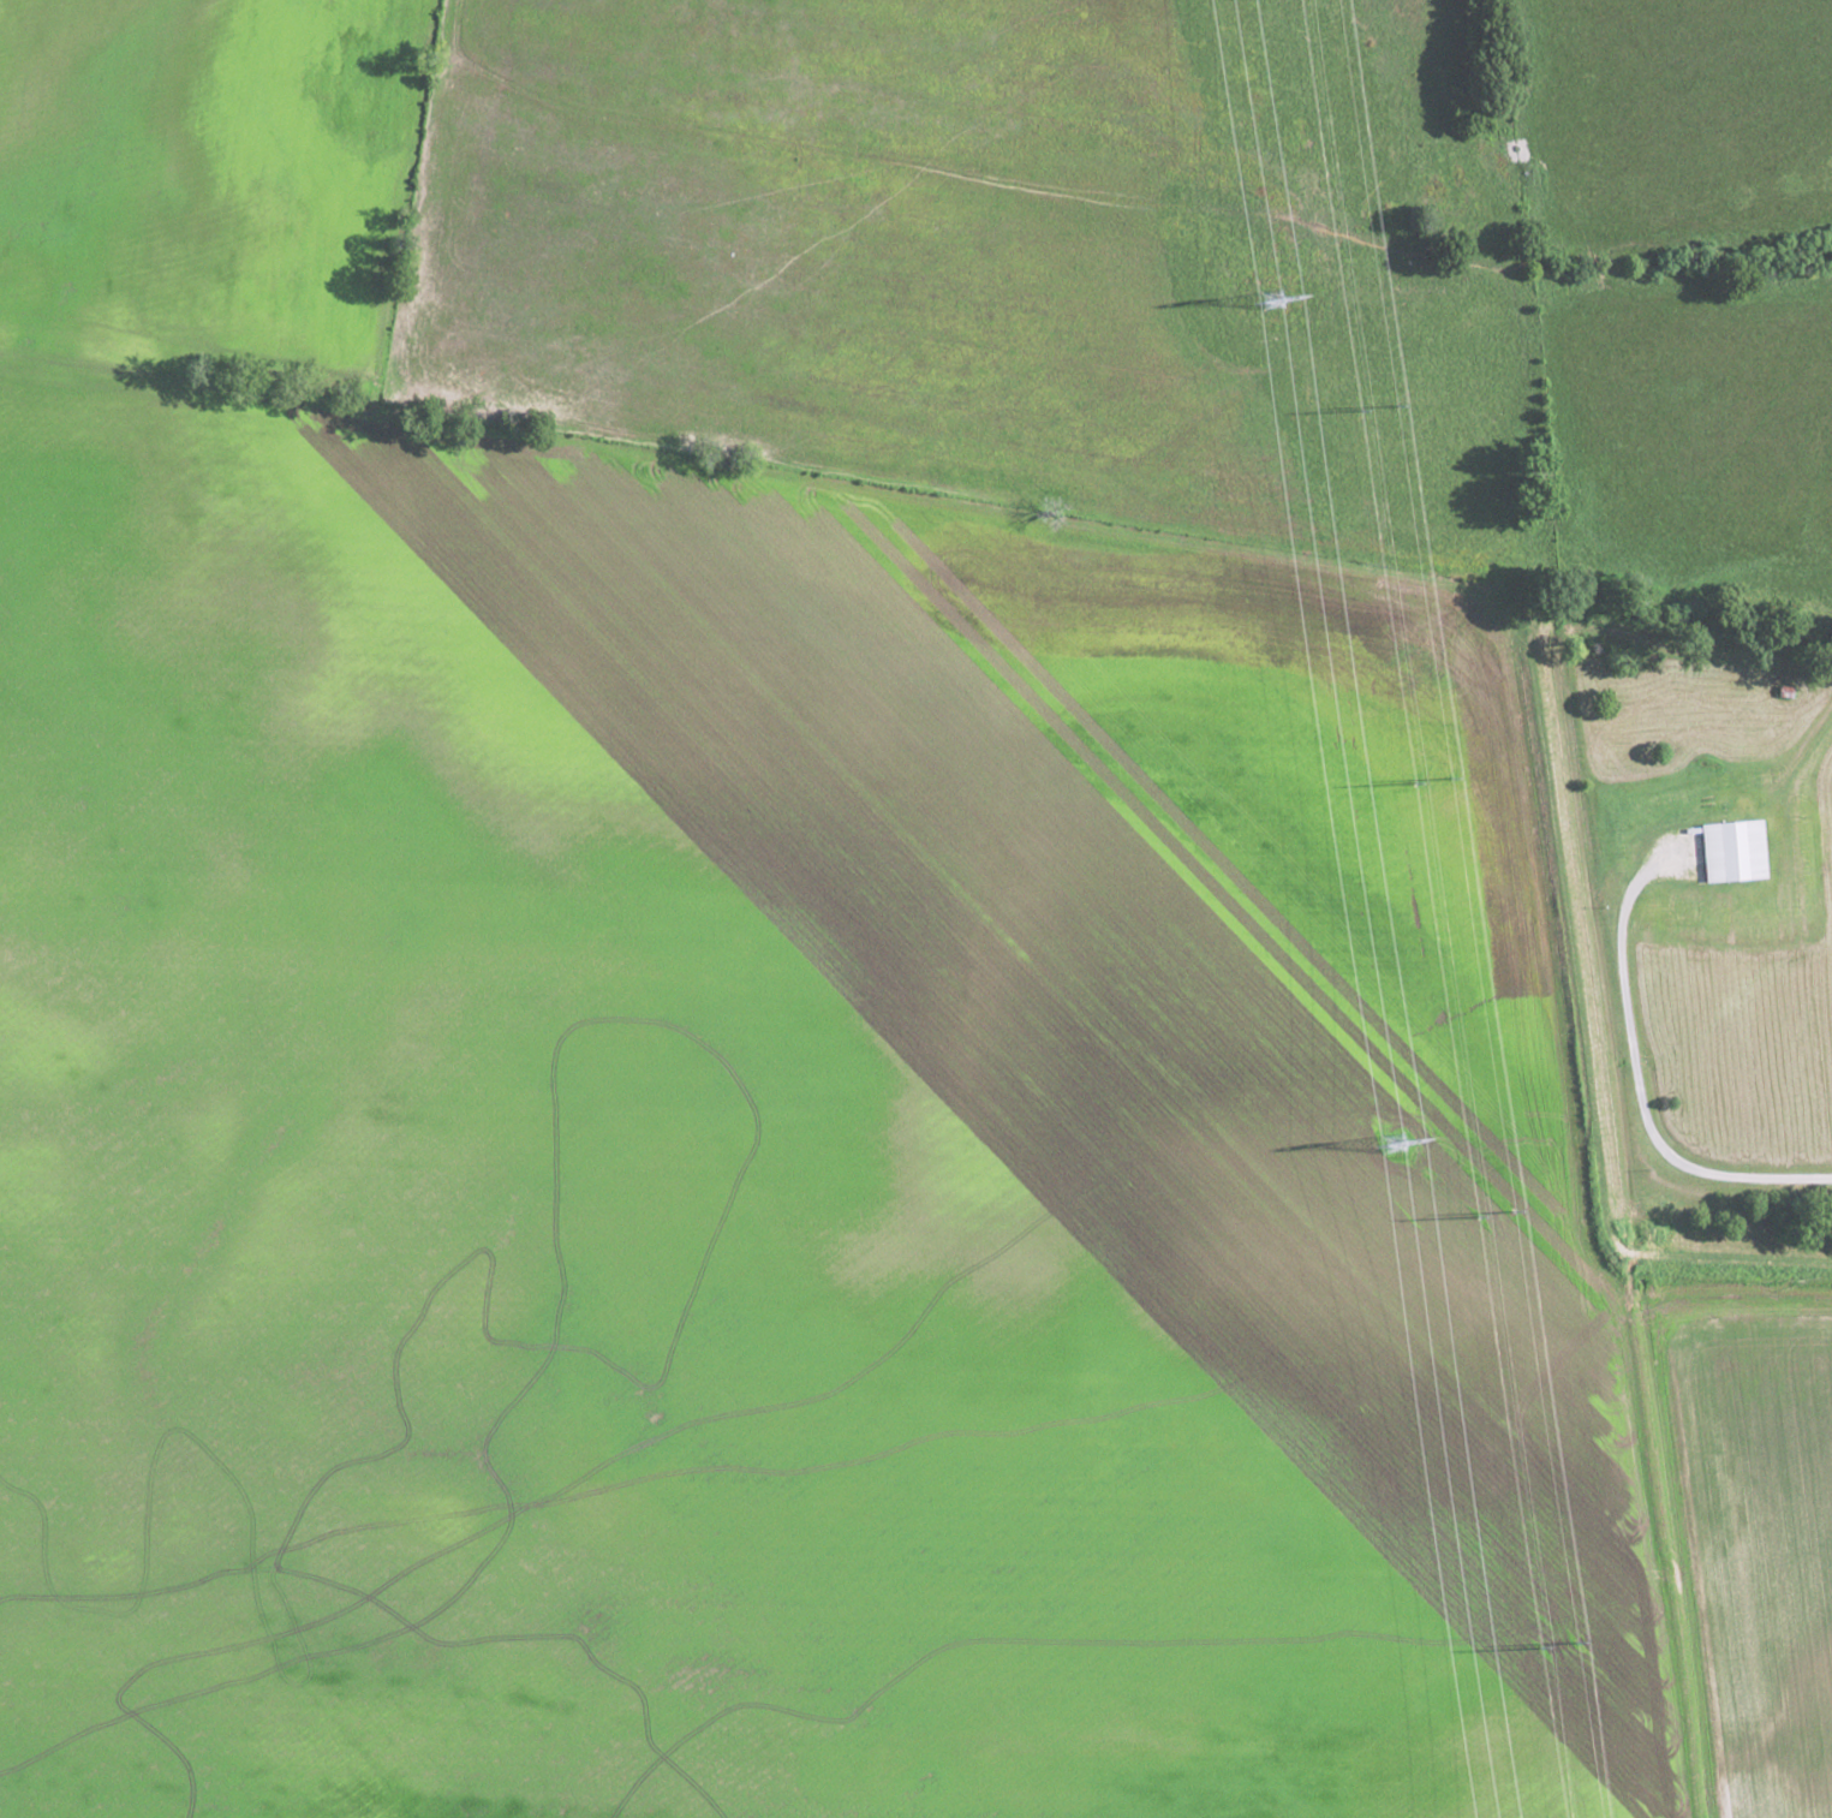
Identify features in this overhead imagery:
power tower: (1275, 306)
power tower: (1379, 409)
building: (1784, 691)
power tower: (1433, 781)
building: (1731, 850)
power tower: (1397, 1155)
power tower: (1498, 1216)
power tower: (1561, 1643)

